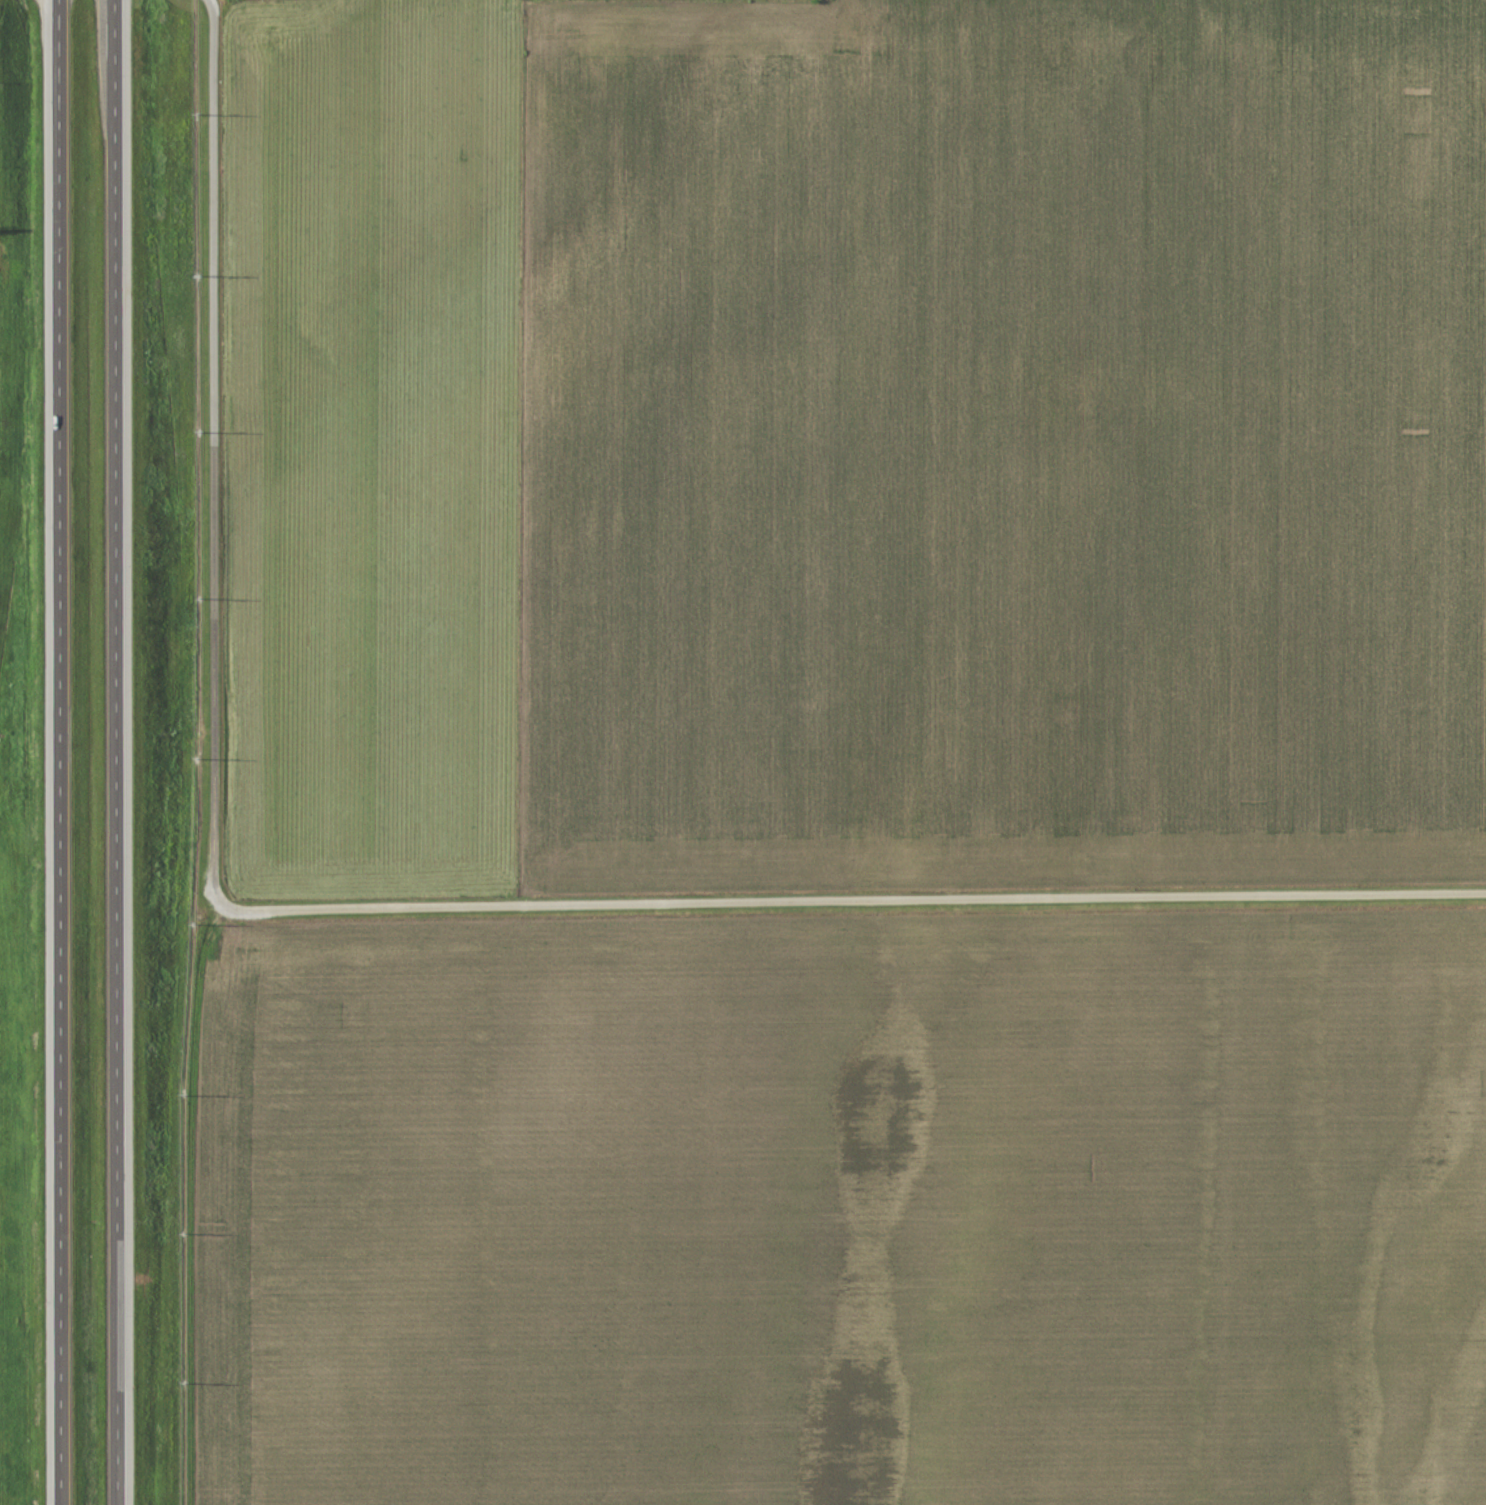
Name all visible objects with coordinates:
road: (61, 752)
road: (117, 752)
road: (401, 908)

